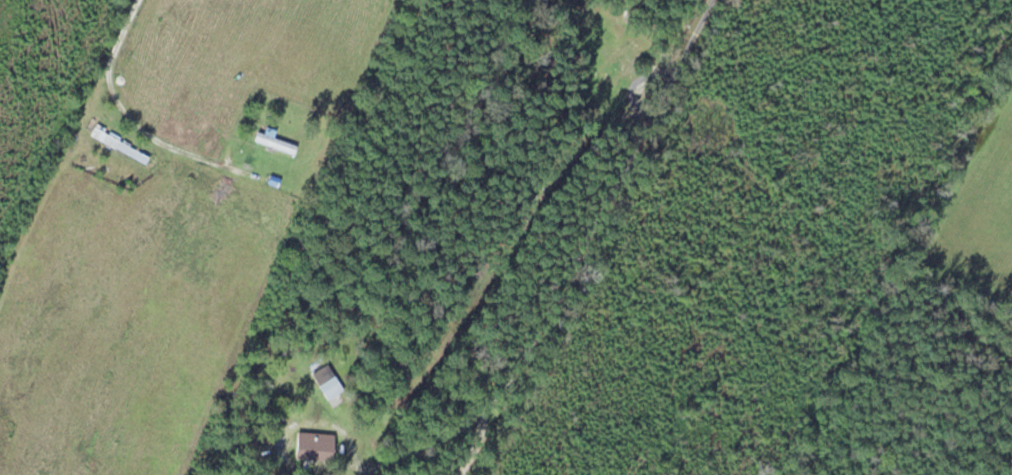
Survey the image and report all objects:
road: (682, 48)
building: (618, 60)
road: (127, 119)
building: (274, 143)
building: (325, 381)
building: (312, 446)

